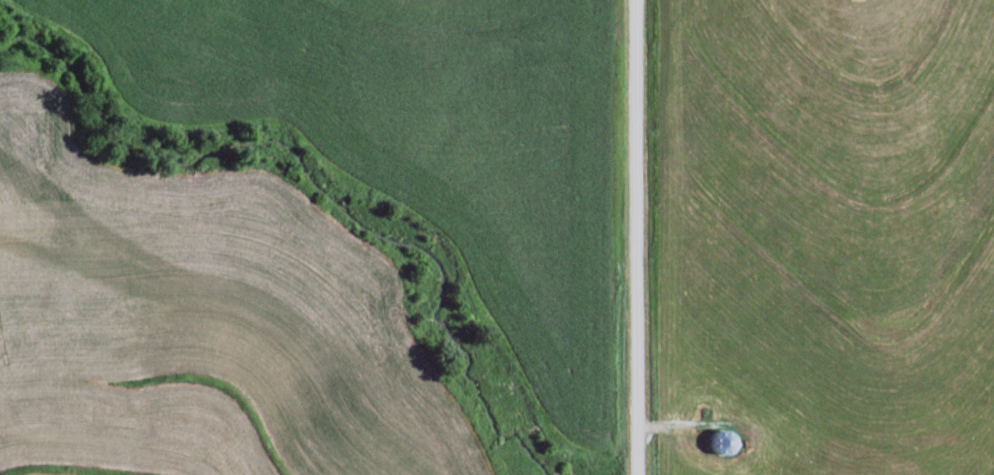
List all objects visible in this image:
road: (635, 237)

